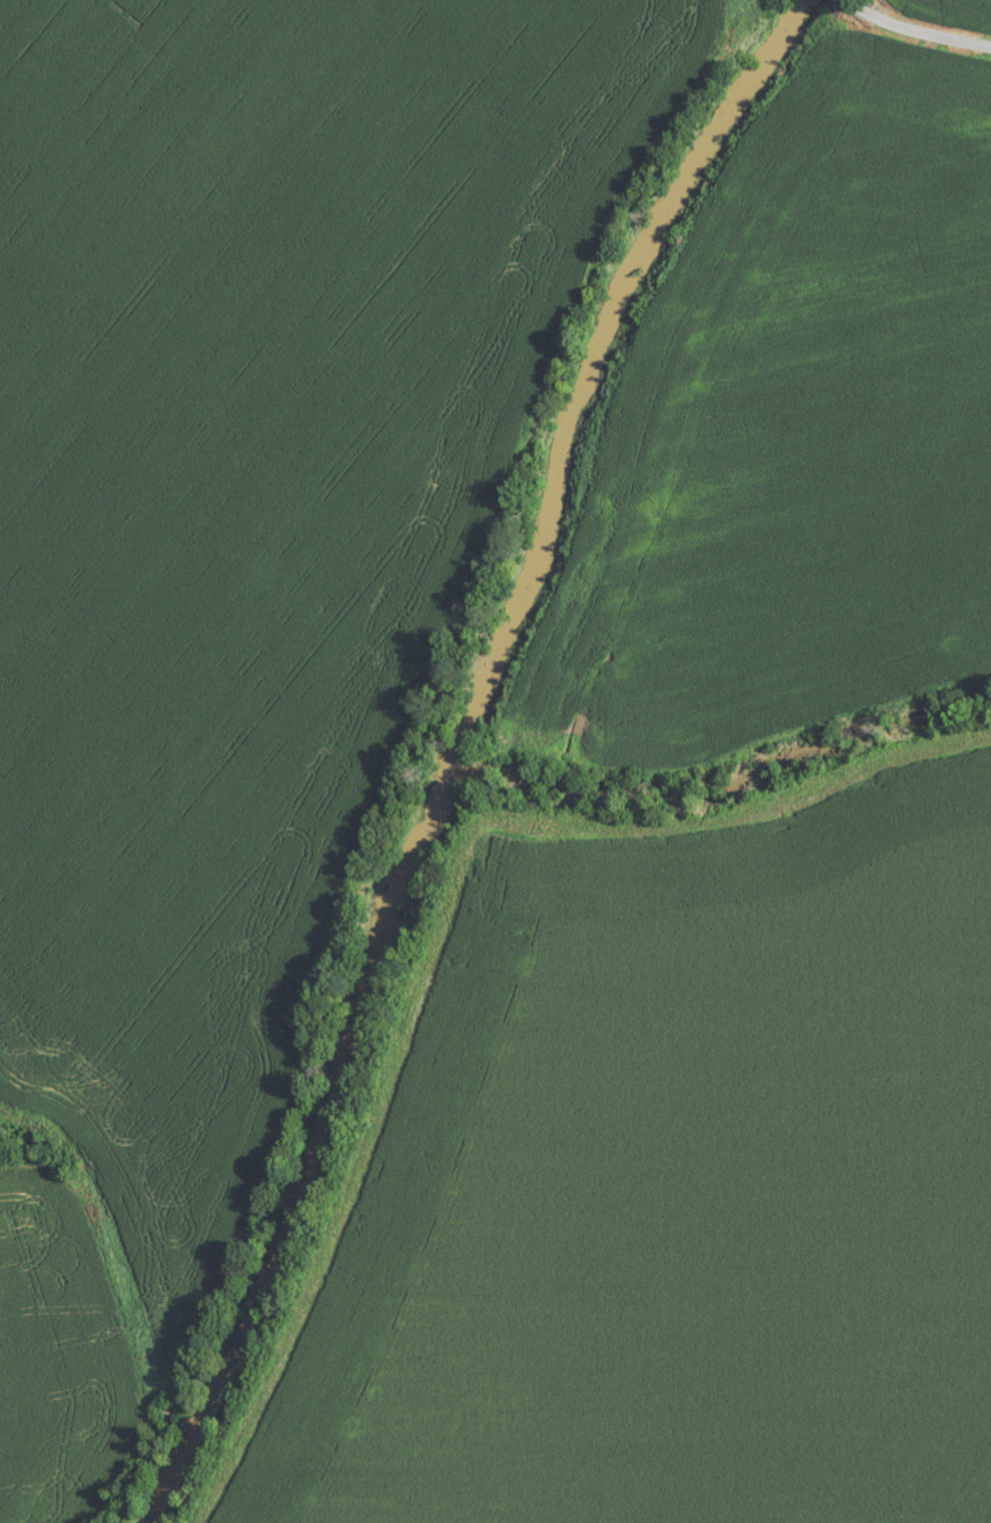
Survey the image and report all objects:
road: (916, 32)

